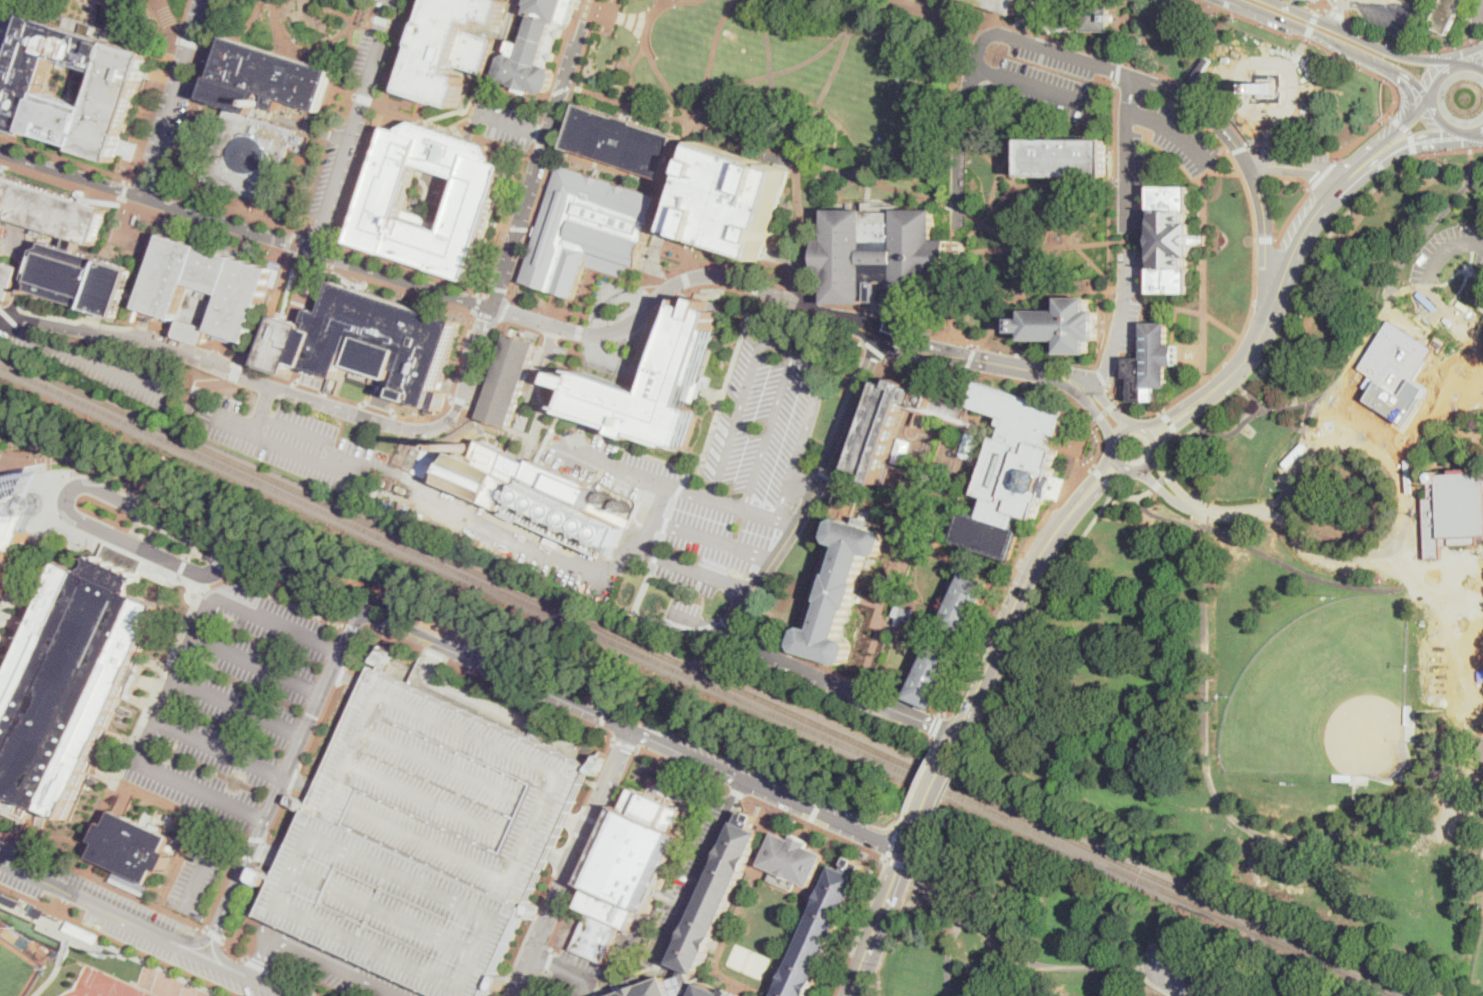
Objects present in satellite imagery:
building: (1415, 2)
road: (12, 3)
road: (660, 4)
building: (1002, 4)
road: (1348, 4)
road: (1243, 5)
road: (1313, 5)
road: (610, 6)
road: (1, 7)
road: (80, 8)
road: (602, 12)
road: (1477, 12)
road: (338, 13)
road: (1338, 13)
road: (944, 14)
parking lot: (1388, 14)
building: (1447, 14)
road: (1348, 15)
parking lot: (1477, 15)
road: (1338, 16)
road: (252, 17)
building: (1095, 18)
road: (1394, 18)
road: (626, 19)
road: (1279, 19)
road: (634, 22)
road: (272, 23)
road: (1312, 24)
road: (645, 25)
park: (298, 28)
road: (172, 36)
road: (1304, 41)
road: (1366, 42)
road: (331, 43)
road: (1340, 46)
building: (451, 47)
building: (538, 47)
road: (645, 47)
road: (209, 48)
road: (1412, 48)
road: (348, 53)
road: (1452, 53)
road: (1295, 58)
road: (1345, 58)
road: (1474, 61)
road: (1474, 64)
road: (1101, 68)
road: (781, 71)
road: (630, 74)
road: (1442, 74)
parking lot: (1046, 75)
park: (793, 76)
park: (1265, 77)
road: (1410, 77)
road: (770, 80)
road: (830, 80)
road: (487, 82)
road: (574, 85)
road: (1028, 85)
road: (1405, 86)
building: (1267, 88)
road: (160, 89)
road: (561, 89)
road: (487, 90)
building: (22, 92)
road: (172, 96)
road: (518, 96)
road: (362, 98)
road: (544, 108)
road: (460, 109)
road: (1422, 109)
road: (400, 112)
building: (258, 114)
road: (1390, 117)
road: (1441, 119)
road: (471, 120)
parking lot: (511, 122)
road: (352, 124)
road: (1173, 129)
road: (1472, 130)
road: (536, 131)
road: (460, 132)
road: (1409, 132)
road: (1471, 133)
road: (372, 135)
road: (688, 136)
road: (486, 139)
parking lot: (1183, 139)
building: (622, 141)
road: (534, 142)
road: (1436, 143)
road: (1378, 144)
road: (1402, 144)
road: (542, 145)
road: (1298, 145)
road: (531, 146)
road: (889, 148)
road: (1239, 148)
road: (555, 149)
road: (560, 149)
road: (765, 149)
road: (1449, 151)
road: (1126, 153)
parking lot: (1302, 153)
road: (541, 154)
road: (451, 155)
road: (1415, 156)
road: (581, 158)
building: (1065, 158)
road: (64, 159)
road: (988, 159)
road: (1473, 164)
road: (1296, 166)
road: (615, 168)
road: (1215, 170)
road: (1015, 172)
road: (1323, 174)
road: (443, 178)
road: (655, 181)
road: (1267, 184)
road: (147, 185)
parking lot: (436, 185)
road: (1109, 186)
road: (124, 190)
road: (798, 193)
building: (474, 195)
building: (732, 201)
road: (229, 207)
road: (1065, 209)
building: (50, 210)
road: (958, 210)
road: (1089, 215)
road: (1293, 215)
road: (500, 221)
park: (1021, 225)
road: (247, 226)
building: (588, 228)
road: (992, 230)
road: (1062, 230)
road: (292, 232)
road: (315, 233)
road: (1301, 236)
building: (1170, 239)
building: (1200, 239)
road: (1265, 239)
road: (238, 240)
road: (1092, 242)
parking lot: (1136, 245)
road: (1256, 246)
road: (981, 248)
parking lot: (1432, 248)
building: (882, 255)
road: (681, 264)
road: (414, 270)
road: (1205, 271)
building: (81, 278)
road: (684, 278)
building: (8, 279)
road: (1432, 283)
road: (758, 286)
road: (497, 287)
road: (688, 288)
road: (1400, 288)
building: (207, 291)
road: (949, 295)
road: (679, 297)
road: (657, 299)
road: (810, 299)
road: (1300, 300)
road: (478, 302)
road: (752, 302)
road: (506, 309)
road: (1123, 311)
road: (1191, 311)
road: (489, 317)
road: (9, 319)
road: (886, 322)
road: (122, 324)
building: (1064, 325)
road: (577, 329)
road: (882, 329)
road: (550, 337)
road: (881, 337)
road: (482, 339)
building: (368, 341)
road: (1364, 343)
road: (461, 344)
road: (788, 346)
road: (874, 348)
road: (1481, 348)
road: (1251, 350)
road: (971, 357)
road: (88, 360)
building: (1398, 360)
road: (997, 362)
building: (1151, 363)
road: (484, 367)
parking lot: (102, 368)
road: (235, 372)
road: (997, 373)
road: (266, 374)
road: (251, 377)
building: (509, 377)
building: (666, 382)
road: (224, 384)
street lamp: (240, 385)
road: (309, 386)
road: (454, 387)
road: (1094, 389)
road: (541, 396)
road: (343, 397)
road: (186, 398)
road: (193, 399)
road: (462, 400)
road: (722, 400)
road: (1086, 402)
road: (379, 407)
road: (1182, 407)
road: (262, 409)
road: (1106, 412)
road: (1138, 413)
road: (839, 414)
road: (1273, 415)
road: (1440, 415)
street lamp: (334, 416)
road: (186, 417)
road: (1190, 417)
road: (428, 419)
road: (1169, 420)
street lamp: (458, 421)
building: (898, 422)
road: (500, 425)
road: (1138, 426)
road: (1307, 427)
road: (769, 429)
road: (1119, 431)
road: (1367, 433)
road: (1152, 435)
road: (484, 436)
parking lot: (293, 442)
road: (460, 442)
road: (281, 445)
road: (1383, 447)
road: (510, 448)
road: (1113, 448)
road: (1183, 453)
road: (647, 454)
road: (14, 459)
building: (419, 459)
road: (1116, 460)
road: (1389, 463)
road: (1148, 464)
road: (1206, 465)
road: (115, 467)
road: (1127, 468)
road: (165, 469)
road: (24, 471)
building: (1012, 471)
parking lot: (720, 472)
road: (59, 475)
building: (479, 475)
road: (1103, 479)
road: (1164, 480)
road: (1171, 481)
building: (388, 484)
road: (674, 485)
road: (804, 485)
road: (1086, 485)
park: (28, 489)
building: (400, 489)
road: (1163, 491)
road: (154, 494)
road: (813, 494)
road: (1095, 494)
road: (1135, 497)
building: (380, 502)
road: (1276, 503)
road: (175, 506)
building: (1454, 510)
road: (1204, 511)
road: (147, 512)
road: (460, 513)
road: (1225, 513)
road: (132, 515)
road: (1278, 515)
building: (16, 517)
building: (567, 518)
building: (426, 522)
road: (134, 531)
building: (552, 539)
road: (713, 540)
road: (660, 541)
road: (27, 552)
road: (668, 558)
road: (1279, 562)
road: (183, 565)
road: (219, 566)
road: (1015, 567)
road: (211, 573)
road: (293, 578)
building: (841, 591)
road: (285, 599)
building: (968, 604)
building: (399, 607)
road: (397, 611)
building: (904, 615)
road: (387, 619)
road: (276, 622)
road: (1033, 622)
road: (351, 626)
road: (365, 630)
road: (1002, 634)
road: (360, 643)
road: (259, 661)
park: (1254, 672)
road: (341, 674)
building: (934, 676)
road: (490, 677)
railway: (709, 677)
road: (174, 679)
road: (348, 682)
railway: (699, 683)
building: (77, 685)
road: (1453, 686)
road: (837, 688)
road: (605, 689)
park: (1325, 693)
road: (475, 701)
parking lot: (229, 703)
road: (239, 704)
building: (1409, 713)
road: (602, 717)
road: (938, 725)
road: (319, 726)
road: (631, 730)
road: (936, 741)
road: (625, 743)
road: (220, 745)
building: (1480, 752)
road: (287, 768)
road: (602, 768)
parking lot: (757, 773)
building: (1405, 776)
building: (1343, 777)
road: (295, 778)
road: (922, 778)
road: (303, 781)
road: (935, 784)
road: (946, 789)
road: (199, 791)
road: (1215, 797)
road: (278, 814)
road: (579, 824)
road: (893, 827)
road: (913, 833)
building: (431, 838)
parking lot: (431, 838)
road: (892, 843)
road: (924, 845)
road: (211, 846)
road: (864, 846)
building: (133, 847)
road: (262, 849)
road: (270, 854)
road: (564, 858)
building: (792, 860)
road: (572, 862)
road: (6, 864)
road: (903, 865)
building: (626, 869)
road: (701, 874)
road: (197, 877)
road: (783, 879)
parking lot: (683, 881)
road: (104, 882)
building: (719, 893)
building: (10, 898)
road: (240, 899)
road: (92, 903)
road: (870, 908)
building: (40, 912)
building: (649, 921)
road: (876, 923)
building: (821, 929)
building: (84, 931)
road: (215, 934)
road: (195, 943)
road: (723, 946)
road: (235, 949)
road: (265, 949)
road: (947, 953)
road: (219, 956)
road: (203, 959)
park: (749, 961)
road: (1027, 961)
park: (1479, 962)
road: (258, 966)
road: (332, 968)
park: (15, 969)
road: (704, 976)
road: (844, 976)
road: (1177, 979)
track: (109, 984)
road: (266, 984)
road: (297, 984)
road: (1153, 984)
road: (43, 985)
building: (185, 986)
building: (661, 986)
building: (620, 987)
railway: (1379, 988)
track: (107, 992)
building: (714, 992)
road: (761, 993)

